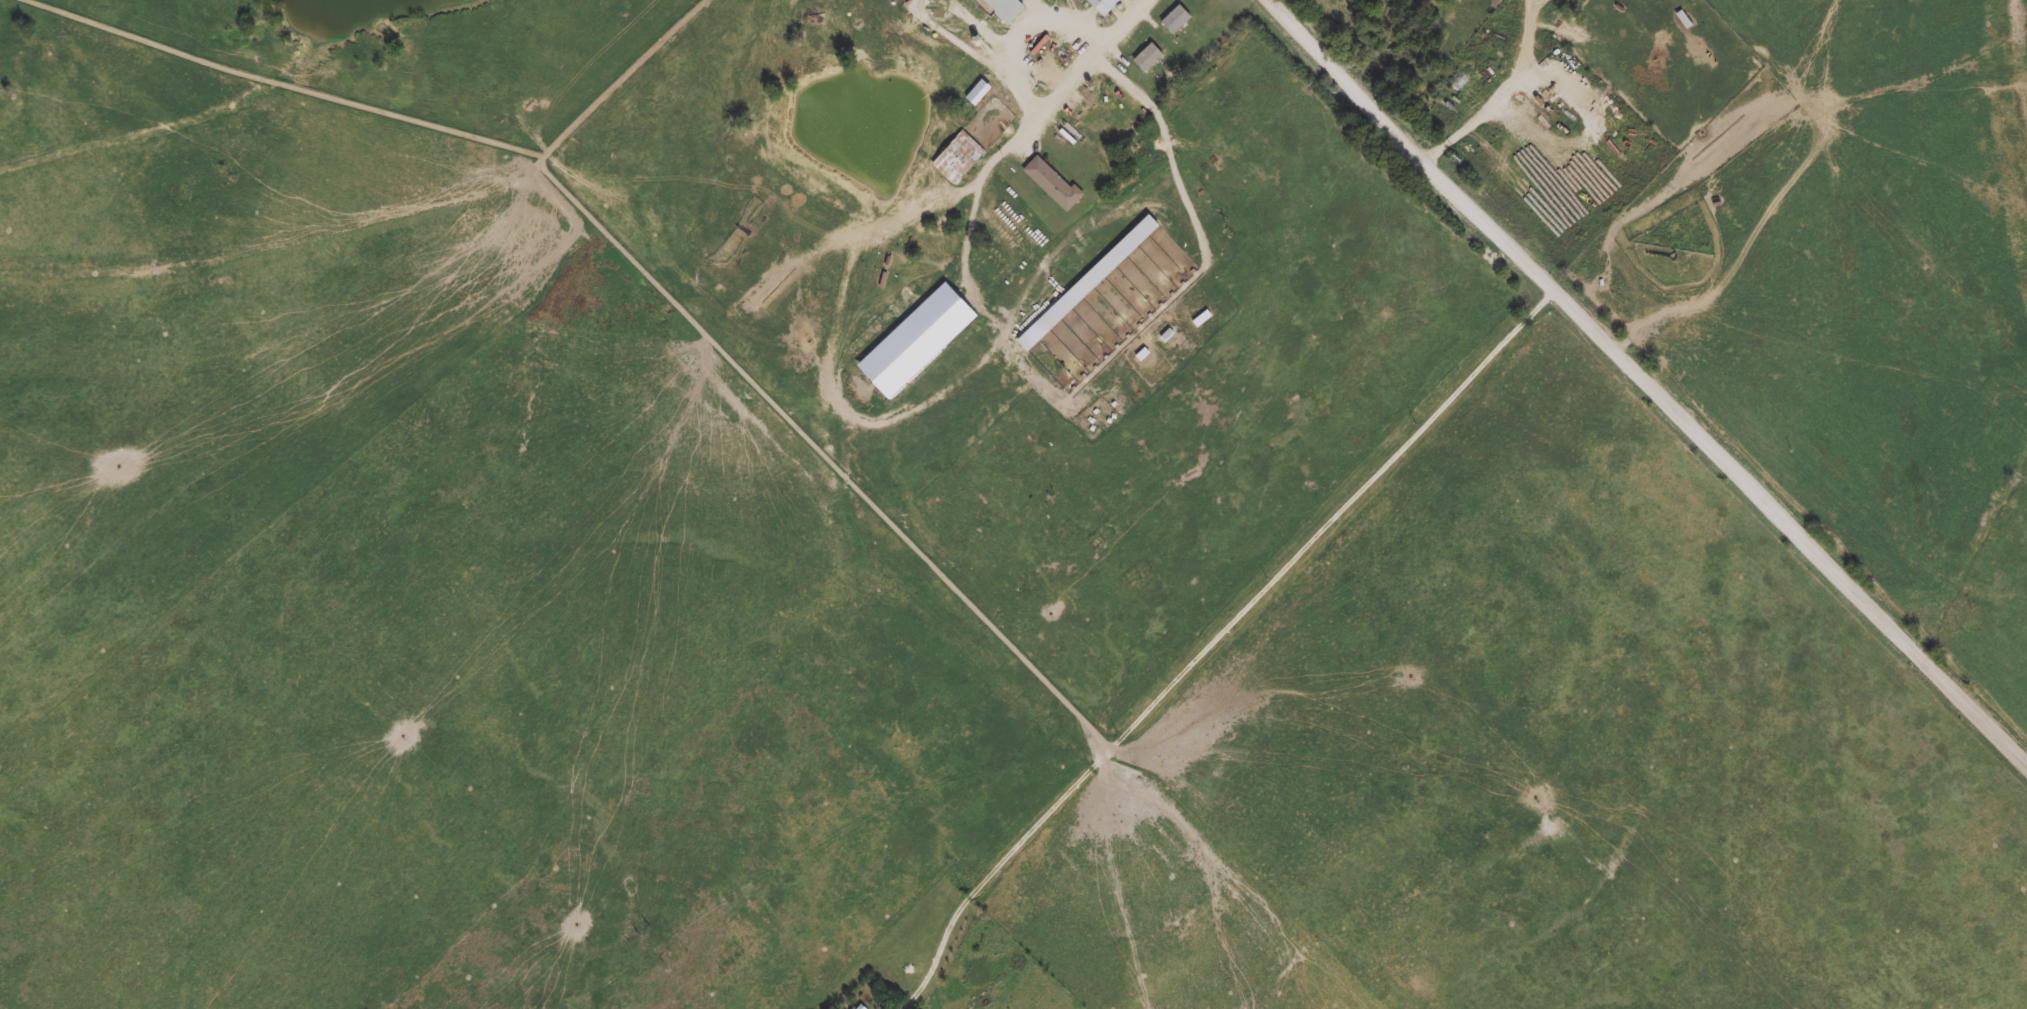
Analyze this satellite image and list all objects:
building: (1005, 9)
building: (1176, 19)
building: (1684, 19)
road: (1529, 38)
road: (1085, 66)
road: (1569, 94)
road: (1480, 118)
building: (958, 157)
building: (1052, 183)
road: (1646, 384)
building: (1103, 538)
building: (1140, 575)
road: (1216, 637)
building: (862, 1007)

